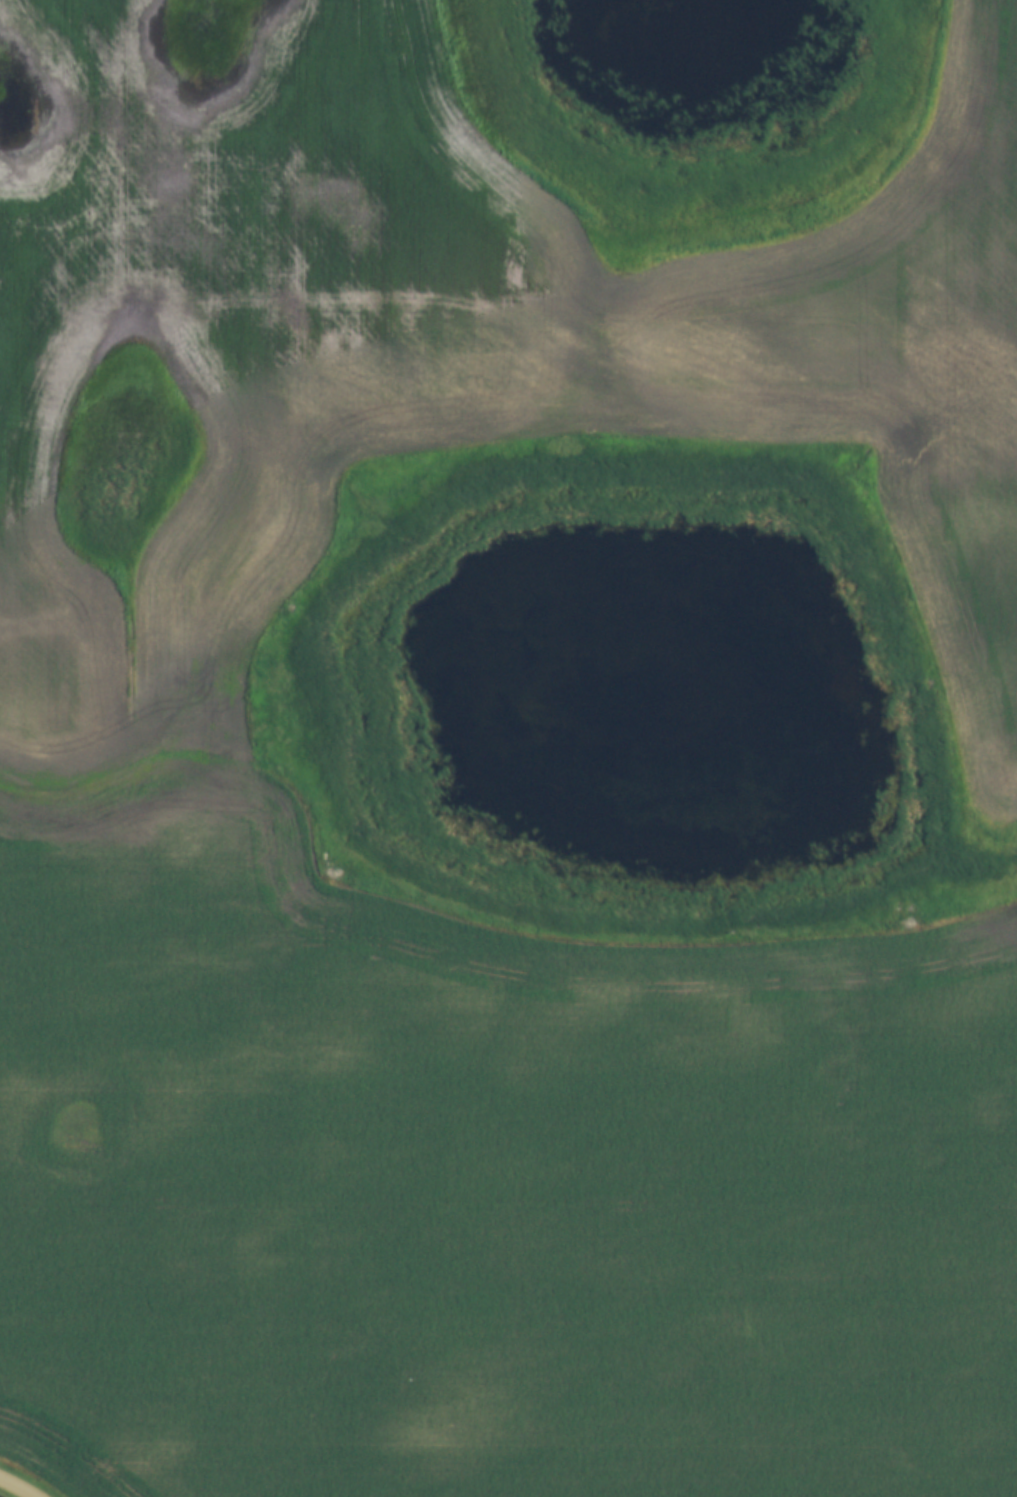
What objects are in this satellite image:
road: (19, 1486)

